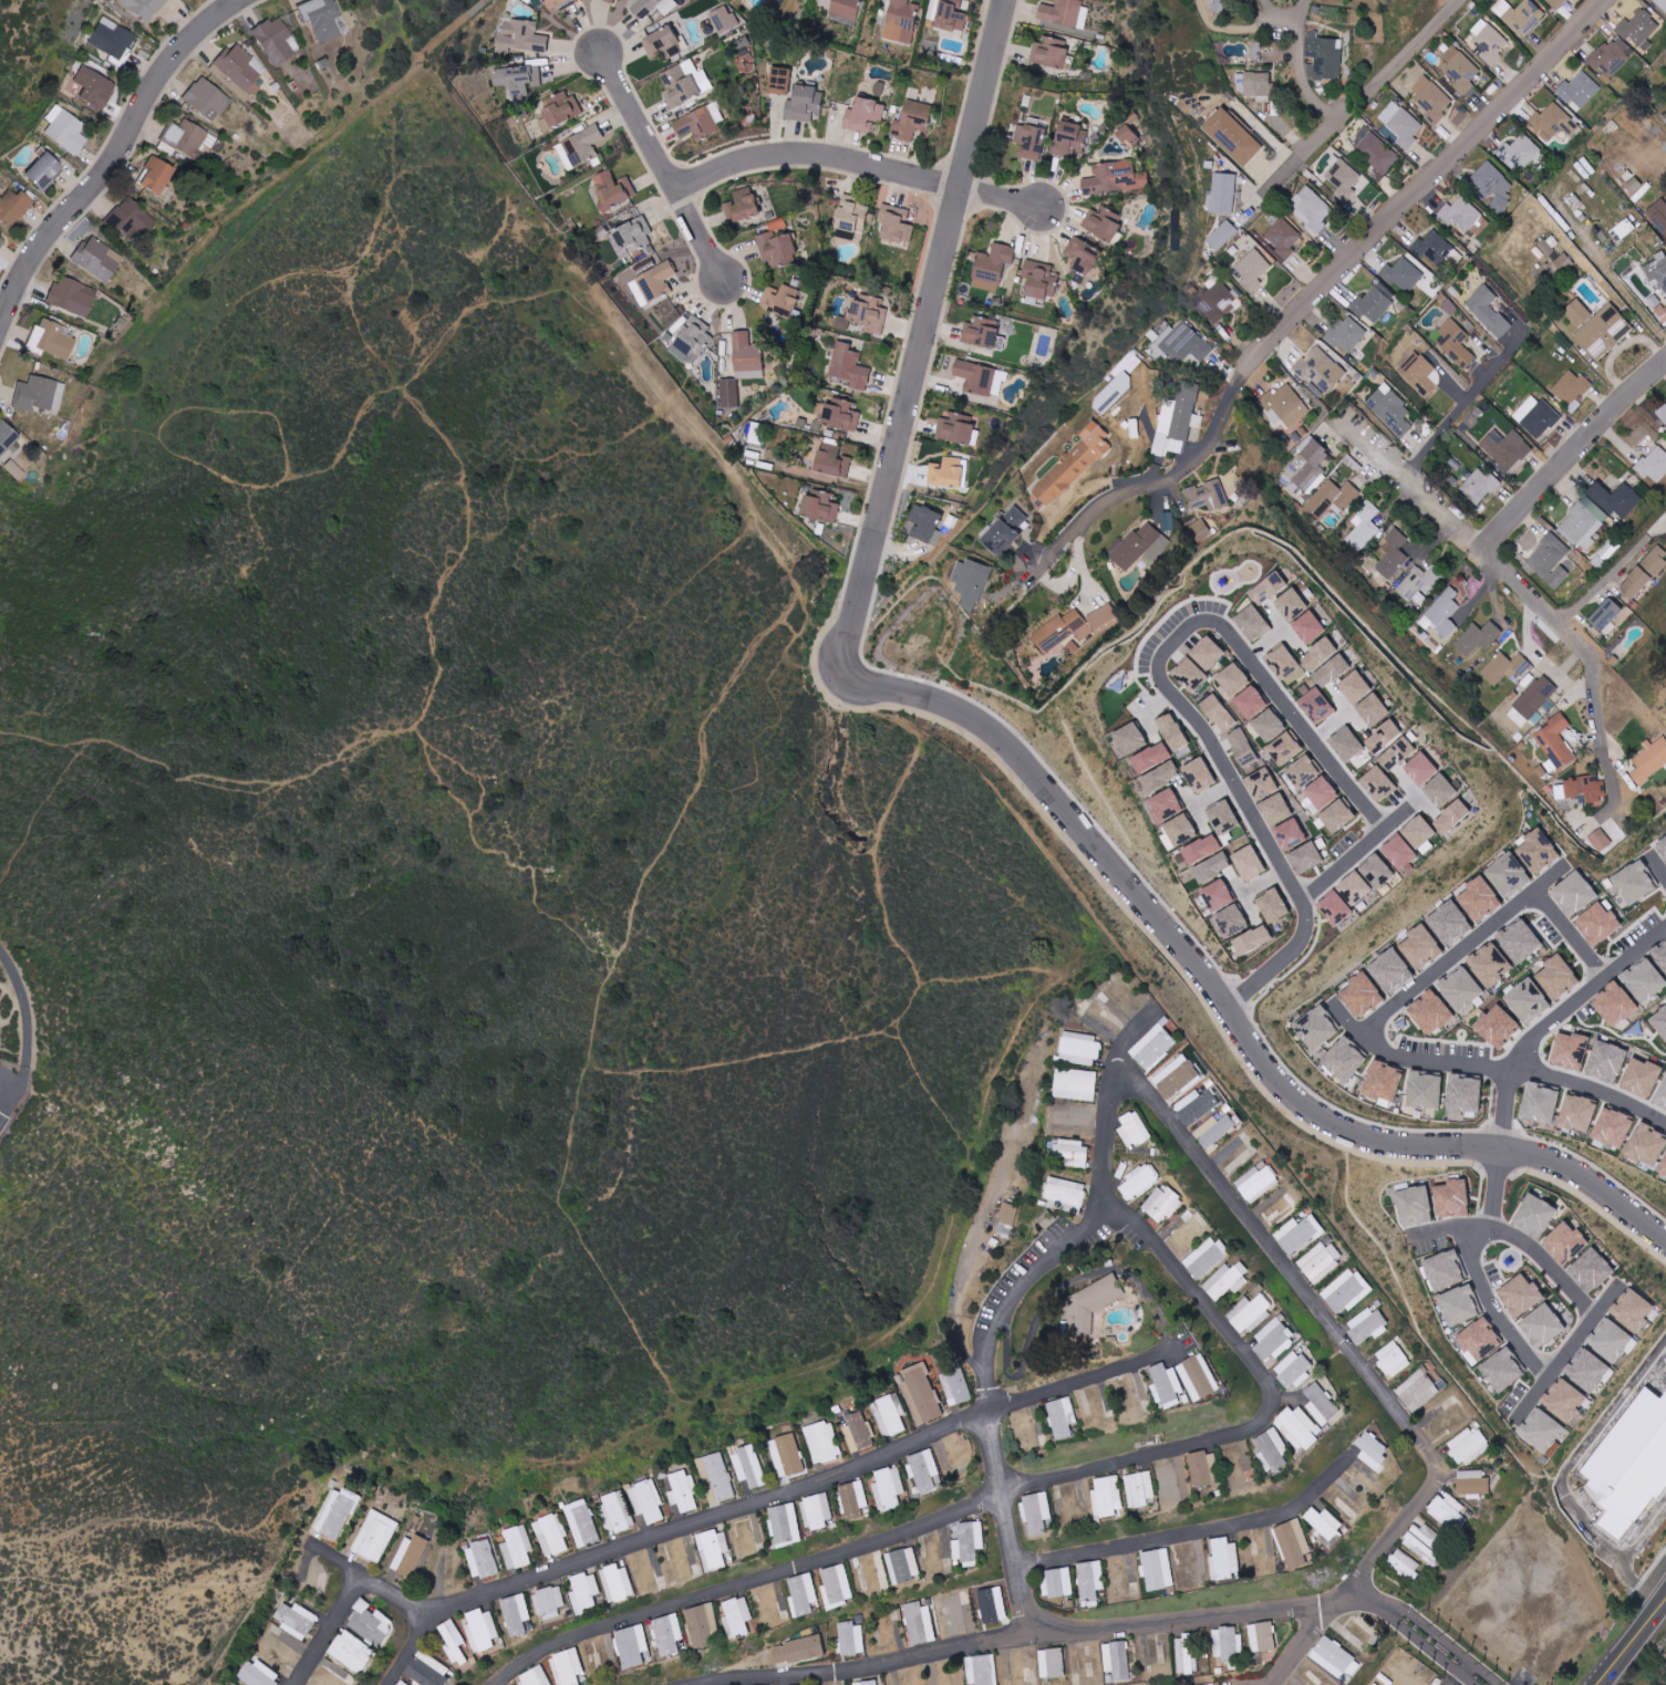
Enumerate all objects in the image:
building: (610, 1)
road: (1457, 1)
building: (1558, 2)
building: (1662, 3)
building: (559, 4)
building: (1219, 6)
building: (649, 7)
building: (142, 8)
building: (846, 9)
road: (1287, 11)
building: (1065, 12)
building: (1519, 15)
building: (952, 18)
building: (319, 19)
building: (724, 19)
building: (900, 21)
building: (1639, 29)
building: (520, 35)
building: (108, 40)
building: (272, 40)
building: (1489, 42)
building: (664, 43)
building: (1049, 52)
building: (1324, 56)
building: (1611, 58)
building: (1460, 70)
building: (236, 71)
road: (1302, 71)
building: (517, 79)
building: (684, 83)
building: (1254, 85)
building: (90, 89)
building: (1579, 91)
building: (796, 95)
road: (1362, 96)
building: (203, 97)
building: (1431, 98)
building: (560, 111)
building: (863, 114)
building: (911, 119)
building: (1553, 122)
building: (700, 123)
building: (1401, 125)
building: (62, 131)
building: (1233, 136)
building: (1129, 137)
building: (187, 139)
building: (1069, 139)
building: (1032, 142)
building: (580, 147)
building: (1375, 150)
building: (1522, 154)
road: (815, 155)
road: (114, 156)
road: (662, 165)
building: (40, 171)
building: (151, 176)
building: (1342, 178)
building: (1115, 179)
building: (1493, 186)
building: (610, 189)
building: (1223, 193)
road: (1000, 197)
building: (742, 205)
building: (12, 207)
building: (1312, 210)
building: (851, 215)
building: (1658, 215)
building: (1463, 216)
building: (127, 219)
building: (777, 223)
building: (1103, 223)
building: (897, 225)
building: (631, 236)
building: (1223, 236)
building: (1283, 237)
building: (0, 240)
building: (1432, 247)
building: (776, 249)
building: (94, 258)
building: (1080, 259)
building: (1563, 263)
building: (992, 267)
building: (1253, 269)
building: (1658, 272)
building: (1404, 274)
building: (1038, 280)
building: (654, 283)
road: (1321, 284)
road: (933, 290)
building: (69, 297)
building: (779, 299)
building: (1220, 302)
building: (1374, 302)
building: (1489, 311)
building: (1576, 312)
building: (1662, 312)
building: (869, 313)
building: (1603, 332)
building: (983, 333)
building: (1346, 335)
building: (49, 340)
building: (692, 340)
building: (1184, 343)
building: (1456, 343)
building: (746, 356)
building: (849, 366)
building: (1321, 368)
building: (1420, 374)
building: (980, 378)
building: (1571, 389)
building: (728, 393)
building: (1114, 393)
building: (35, 394)
road: (2, 395)
building: (1284, 405)
building: (1390, 409)
road: (1479, 412)
building: (1663, 413)
building: (840, 415)
building: (1536, 417)
building: (1178, 419)
building: (955, 428)
building: (4, 437)
building: (1507, 448)
road: (1572, 451)
building: (830, 460)
building: (1355, 461)
building: (1653, 464)
building: (1312, 465)
building: (1070, 467)
building: (11, 469)
building: (945, 472)
building: (1479, 486)
building: (1208, 496)
building: (1332, 498)
building: (1615, 499)
building: (820, 505)
building: (1584, 522)
building: (1364, 527)
building: (1004, 530)
building: (1200, 530)
building: (1139, 547)
building: (1393, 554)
building: (1550, 561)
road: (1496, 563)
building: (1643, 573)
road: (1605, 578)
building: (971, 583)
building: (1267, 589)
building: (1291, 605)
building: (1442, 614)
building: (1605, 614)
building: (1101, 618)
building: (1251, 623)
building: (1308, 627)
building: (1059, 630)
building: (1478, 638)
building: (1207, 653)
building: (1318, 654)
building: (1282, 662)
building: (1505, 667)
building: (1332, 672)
building: (1189, 673)
building: (1232, 679)
road: (1163, 680)
building: (1364, 698)
building: (1535, 699)
building: (1250, 703)
building: (1315, 705)
building: (1217, 714)
building: (1267, 726)
building: (1171, 732)
building: (1128, 738)
building: (1384, 738)
building: (1345, 743)
building: (1554, 743)
building: (1283, 749)
building: (1243, 750)
building: (1396, 755)
building: (1149, 758)
building: (1649, 761)
building: (1420, 769)
building: (1301, 772)
building: (1198, 774)
building: (1159, 777)
building: (1377, 783)
building: (1261, 784)
building: (1440, 790)
building: (1586, 790)
building: (1321, 792)
building: (1163, 805)
building: (1274, 809)
building: (1335, 815)
building: (1450, 817)
building: (1221, 818)
building: (1177, 832)
building: (1417, 832)
building: (1289, 834)
building: (1598, 841)
building: (1662, 849)
building: (1199, 850)
building: (1536, 851)
building: (1397, 852)
building: (1304, 859)
building: (1248, 863)
road: (1343, 865)
road: (1658, 865)
building: (1210, 867)
building: (1375, 871)
building: (1507, 875)
building: (1632, 884)
building: (1353, 888)
building: (1573, 894)
building: (1215, 896)
building: (1478, 899)
building: (1271, 906)
building: (1334, 908)
building: (1229, 922)
building: (1447, 923)
building: (1596, 925)
road: (1571, 934)
building: (1251, 940)
building: (1518, 942)
building: (1419, 947)
road: (1465, 948)
building: (1660, 958)
building: (1488, 965)
road: (1201, 970)
building: (1389, 971)
building: (1555, 977)
building: (1643, 980)
building: (1459, 989)
building: (1359, 996)
building: (1525, 1001)
building: (1613, 1005)
building: (1429, 1012)
building: (1659, 1022)
building: (1496, 1027)
building: (1314, 1029)
road: (6, 1039)
building: (1079, 1048)
building: (1152, 1049)
road: (1524, 1049)
building: (1569, 1051)
building: (1343, 1060)
building: (1605, 1062)
road: (1493, 1068)
building: (1639, 1078)
building: (1380, 1082)
building: (1075, 1084)
building: (1422, 1091)
building: (1660, 1095)
building: (1462, 1096)
building: (1539, 1104)
building: (1198, 1106)
building: (1576, 1114)
building: (1612, 1128)
building: (1134, 1130)
building: (1214, 1130)
building: (1645, 1145)
building: (1070, 1154)
building: (1663, 1166)
building: (1139, 1183)
building: (1256, 1183)
building: (1066, 1195)
building: (1450, 1199)
building: (1161, 1204)
building: (1413, 1206)
building: (1277, 1207)
building: (1533, 1217)
building: (1006, 1219)
building: (1183, 1232)
building: (1297, 1235)
road: (1519, 1239)
building: (1563, 1244)
building: (1205, 1258)
building: (1321, 1261)
building: (1443, 1271)
building: (1590, 1271)
building: (1227, 1281)
building: (1346, 1291)
building: (1519, 1296)
road: (1013, 1299)
building: (1458, 1306)
building: (1088, 1307)
road: (1494, 1309)
building: (1636, 1312)
building: (1250, 1313)
building: (1367, 1325)
building: (1541, 1327)
road: (1335, 1333)
building: (1477, 1341)
building: (1614, 1341)
building: (1274, 1342)
building: (1395, 1359)
road: (1556, 1365)
building: (1294, 1370)
building: (1501, 1371)
building: (1590, 1371)
building: (1196, 1375)
building: (1163, 1383)
building: (956, 1386)
building: (1418, 1391)
parking lot: (1663, 1392)
building: (922, 1394)
building: (1566, 1402)
building: (1322, 1403)
building: (891, 1415)
building: (1063, 1416)
road: (1608, 1418)
building: (1300, 1426)
building: (859, 1432)
building: (1542, 1432)
building: (824, 1442)
building: (1467, 1446)
road: (894, 1447)
building: (1273, 1448)
building: (751, 1466)
building: (1634, 1467)
building: (1203, 1468)
building: (927, 1469)
building: (718, 1475)
building: (1472, 1484)
building: (891, 1488)
road: (1012, 1488)
building: (684, 1490)
building: (1107, 1496)
building: (650, 1501)
parking lot: (1592, 1504)
building: (819, 1509)
building: (1449, 1510)
building: (337, 1512)
building: (1036, 1512)
building: (619, 1514)
road: (1665, 1516)
building: (582, 1523)
building: (786, 1525)
building: (1325, 1525)
road: (1193, 1529)
building: (758, 1532)
building: (551, 1535)
building: (376, 1536)
building: (1426, 1540)
road: (1645, 1541)
building: (1293, 1542)
building: (517, 1547)
building: (713, 1548)
building: (948, 1551)
road: (1612, 1554)
building: (411, 1556)
building: (1223, 1558)
building: (483, 1559)
building: (1405, 1563)
building: (903, 1564)
building: (1089, 1581)
building: (619, 1582)
building: (1059, 1582)
building: (838, 1585)
building: (586, 1592)
building: (804, 1593)
building: (992, 1604)
building: (518, 1614)
building: (738, 1616)
building: (297, 1620)
building: (371, 1621)
building: (920, 1623)
building: (705, 1625)
building: (485, 1629)
road: (331, 1632)
building: (670, 1634)
building: (1262, 1636)
road: (1428, 1636)
building: (851, 1639)
building: (455, 1641)
road: (1308, 1642)
road: (1026, 1643)
road: (1636, 1643)
building: (1227, 1644)
building: (632, 1645)
building: (797, 1650)
building: (351, 1651)
road: (407, 1652)
building: (1189, 1653)
building: (1332, 1656)
building: (1116, 1660)
building: (1095, 1661)
building: (1053, 1663)
building: (568, 1666)
building: (428, 1670)
building: (260, 1674)
building: (982, 1674)
building: (536, 1676)
building: (402, 1683)

